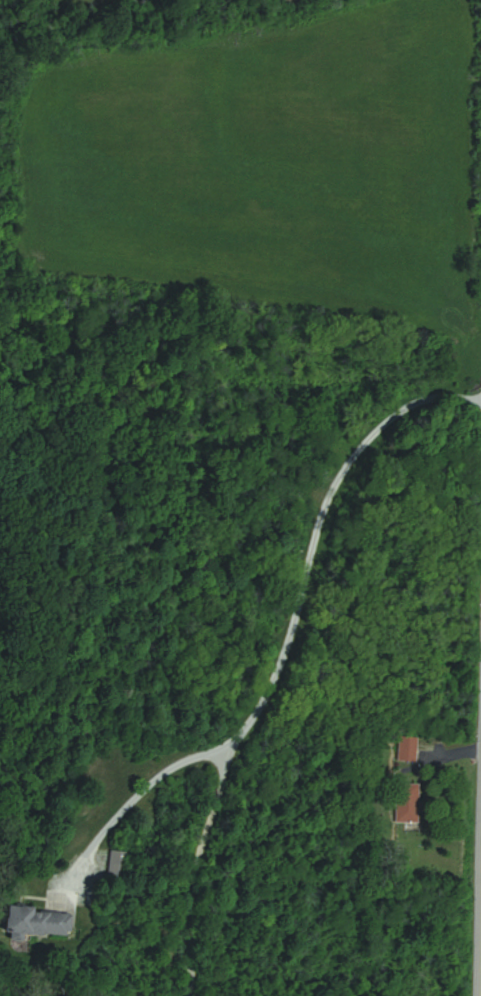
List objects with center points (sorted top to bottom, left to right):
road: (288, 633)
building: (404, 748)
building: (405, 802)
building: (114, 865)
road: (191, 869)
building: (34, 923)
road: (480, 980)

